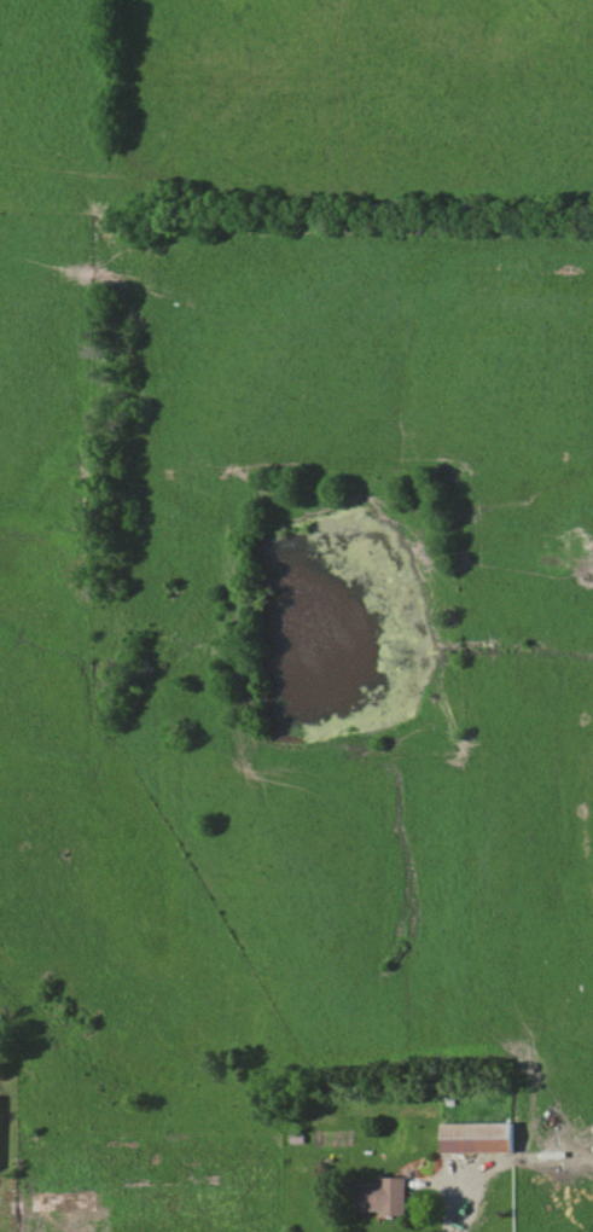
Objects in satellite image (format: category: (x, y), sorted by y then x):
building: (0, 1133)
building: (486, 1138)
building: (389, 1197)

